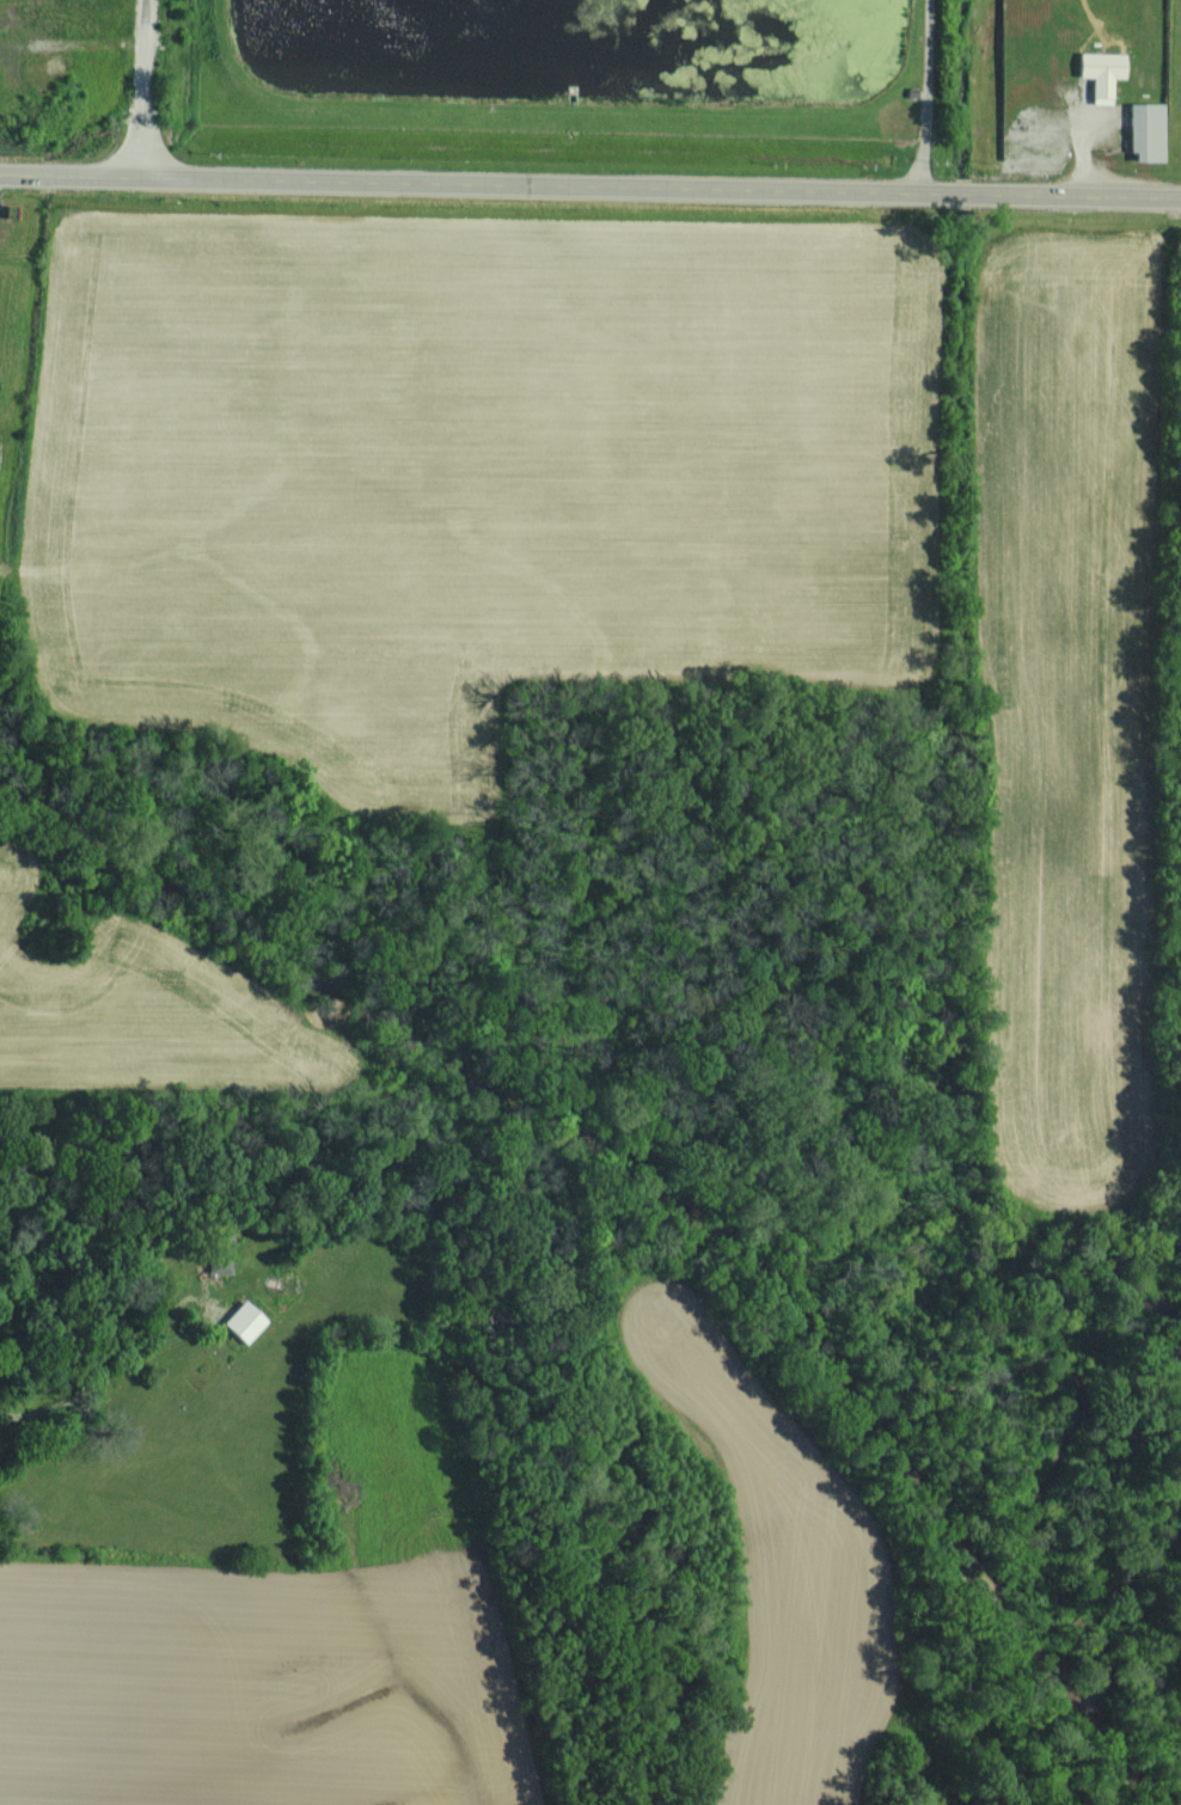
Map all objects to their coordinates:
quarry: (88, 65)
wastewater plant: (569, 69)
building: (1100, 72)
road: (140, 92)
road: (925, 98)
building: (1144, 130)
road: (589, 190)
building: (218, 1250)
building: (241, 1321)

